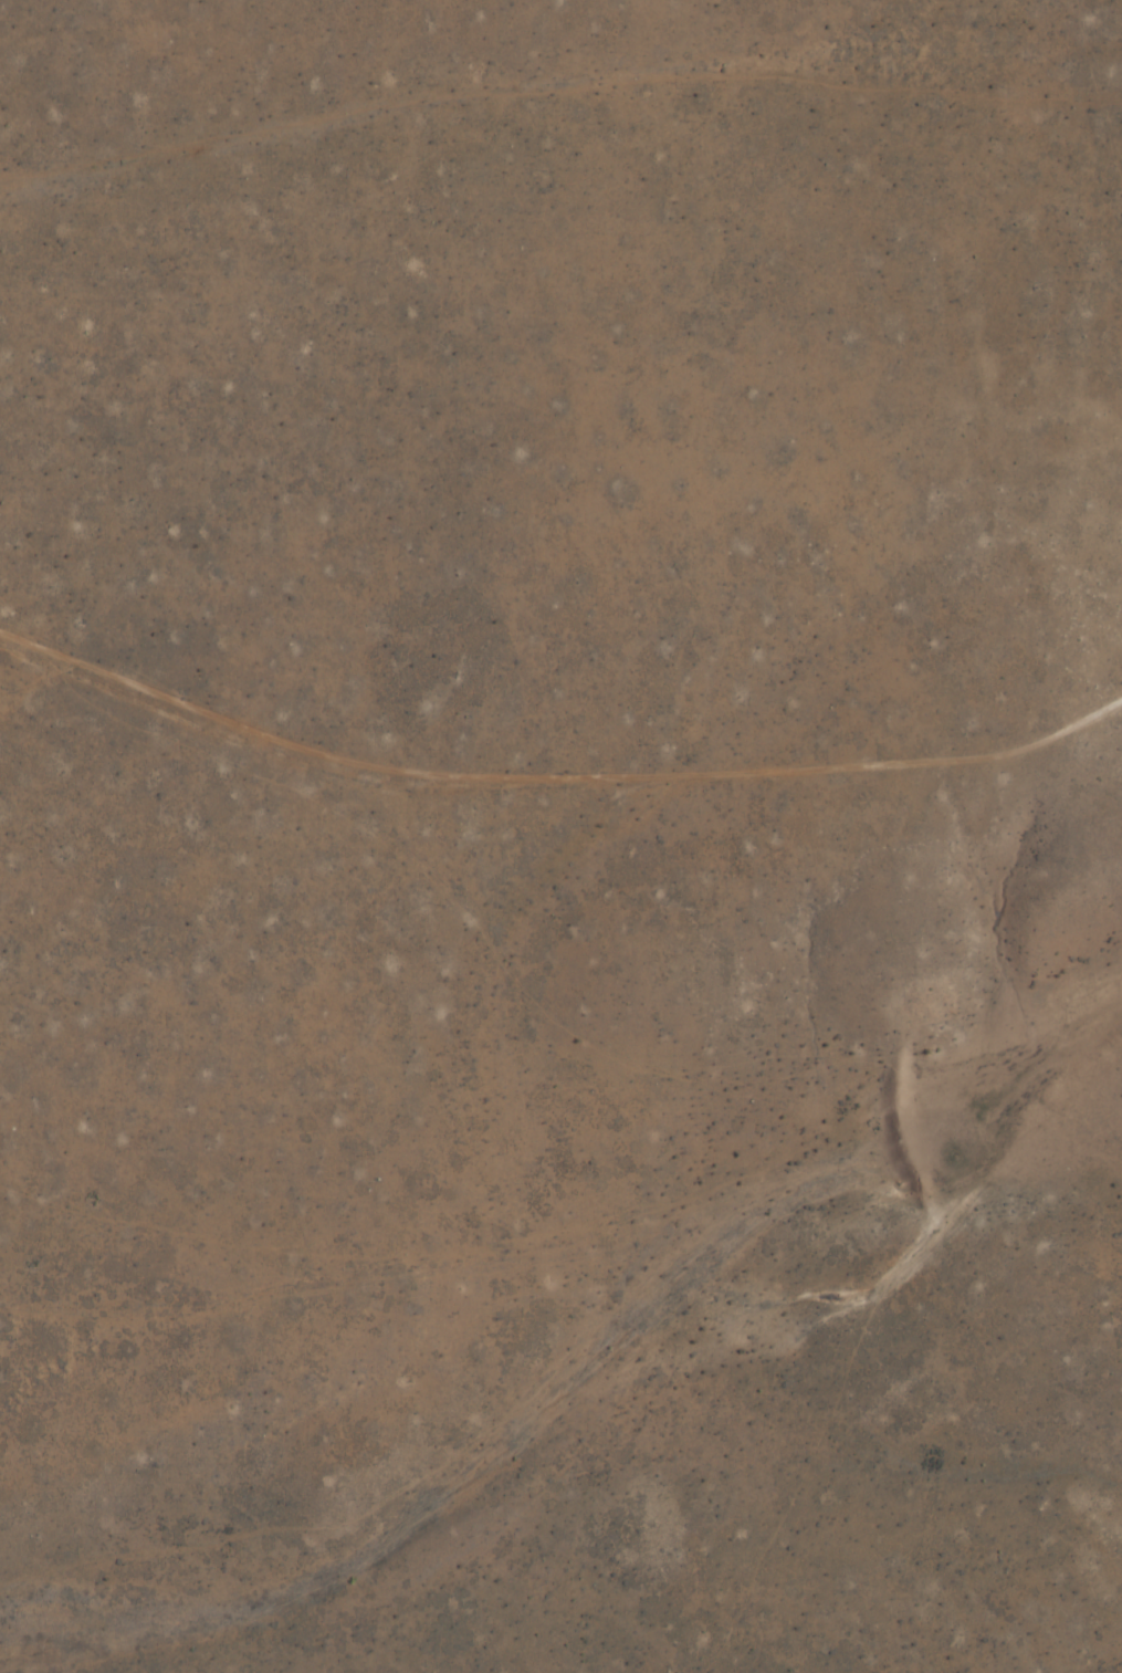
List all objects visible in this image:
road: (554, 778)

